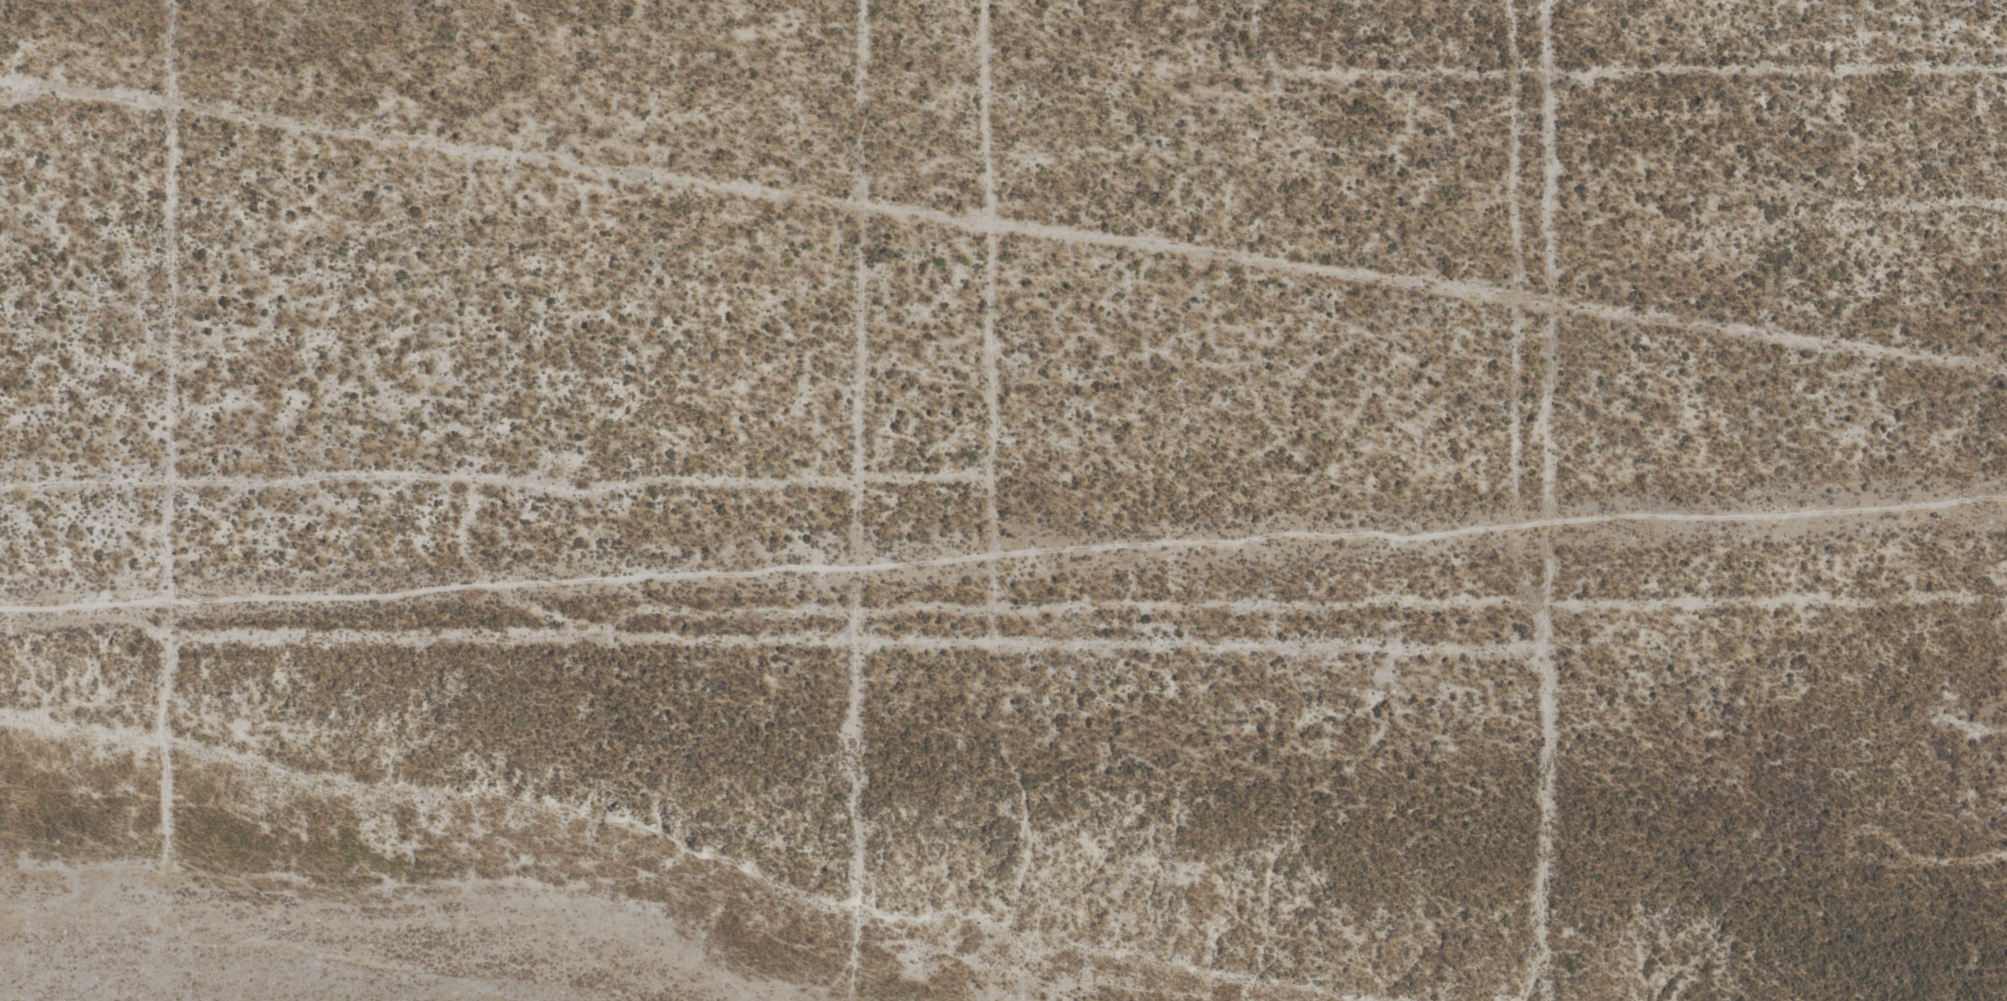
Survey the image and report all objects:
power tower: (1991, 509)
power tower: (1634, 527)
power tower: (1277, 545)
power tower: (921, 564)
power tower: (563, 582)
power tower: (206, 600)

